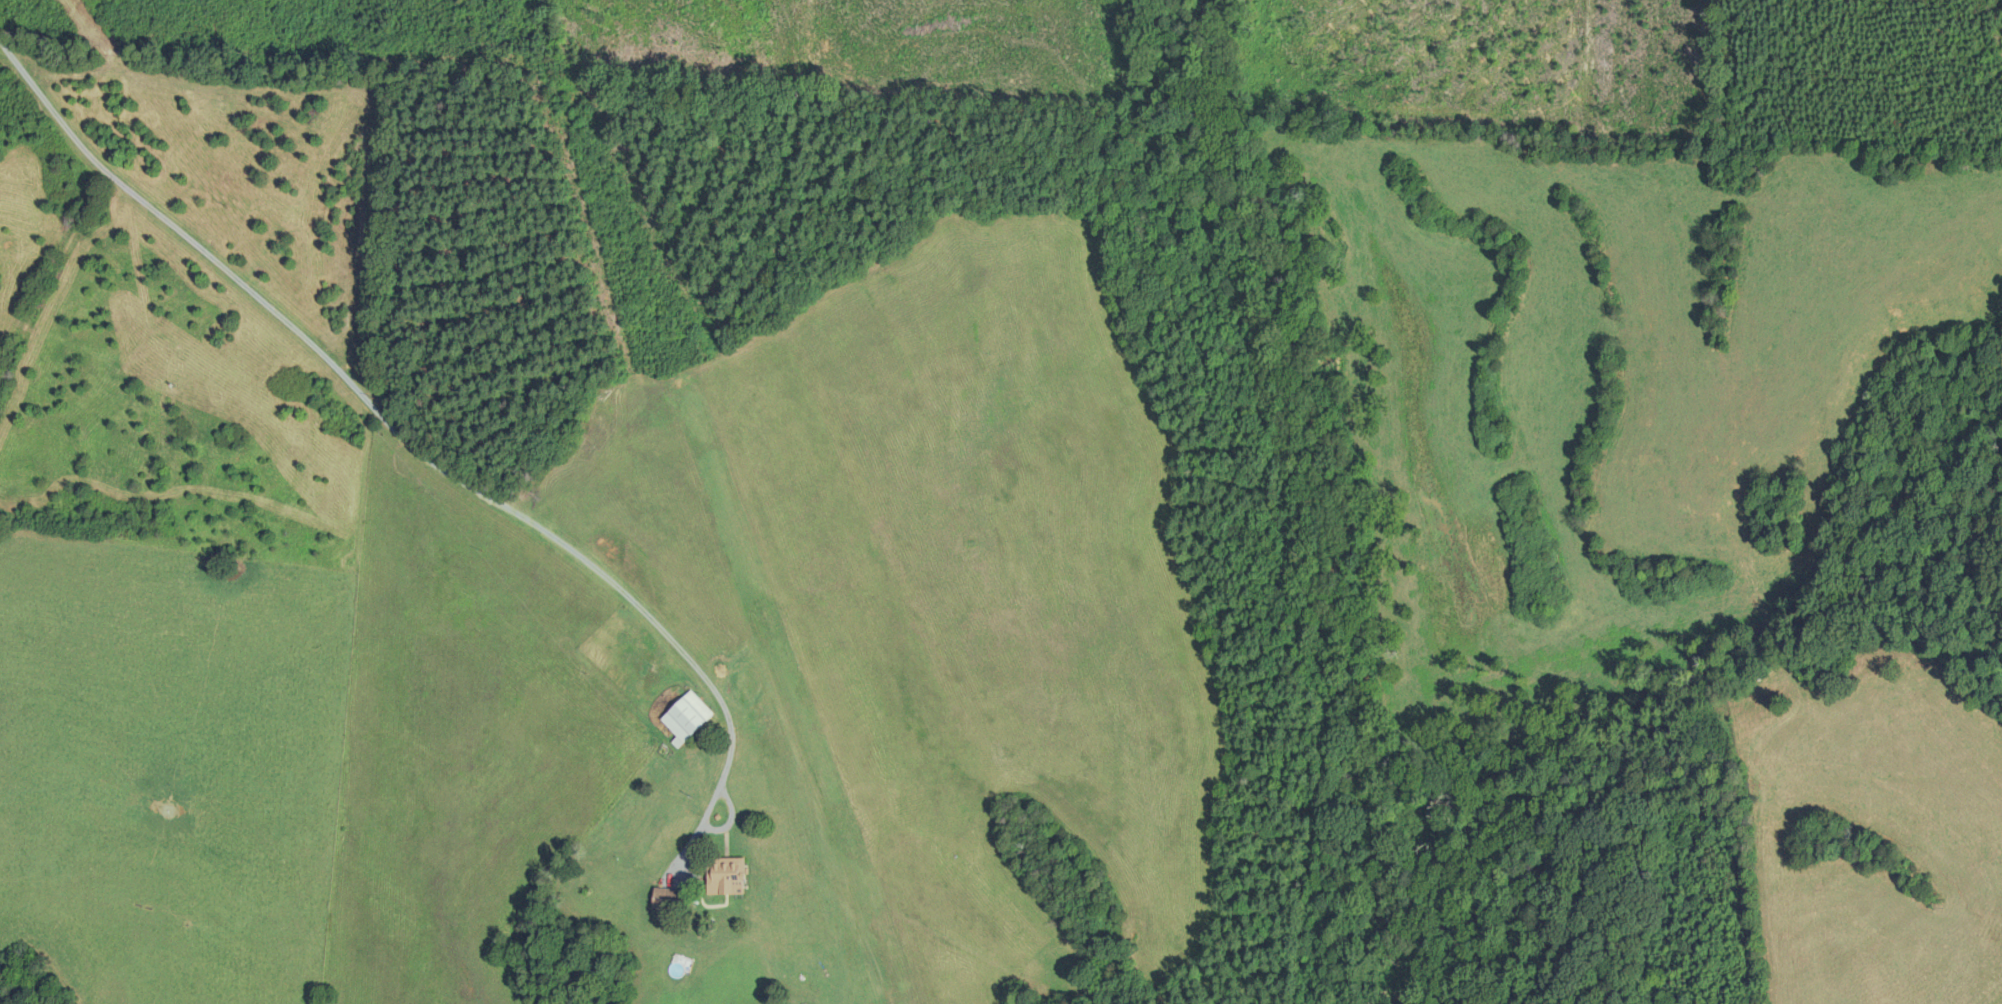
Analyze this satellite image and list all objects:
road: (92, 218)
road: (469, 507)
building: (689, 716)
airport runway: (836, 803)
building: (729, 875)
building: (669, 898)

